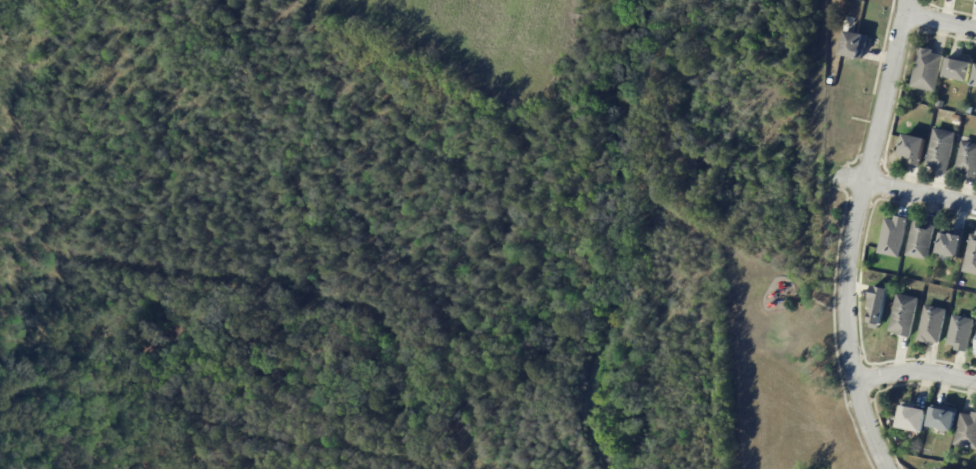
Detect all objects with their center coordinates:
road: (938, 18)
building: (855, 45)
building: (959, 70)
building: (930, 71)
building: (975, 84)
building: (971, 110)
building: (914, 150)
building: (942, 150)
building: (968, 159)
road: (919, 194)
road: (849, 235)
building: (894, 240)
building: (921, 242)
building: (952, 243)
building: (972, 257)
building: (877, 306)
building: (906, 315)
building: (934, 325)
building: (962, 333)
road: (915, 370)
building: (944, 418)
building: (914, 419)
building: (967, 430)
building: (915, 445)
building: (944, 468)

